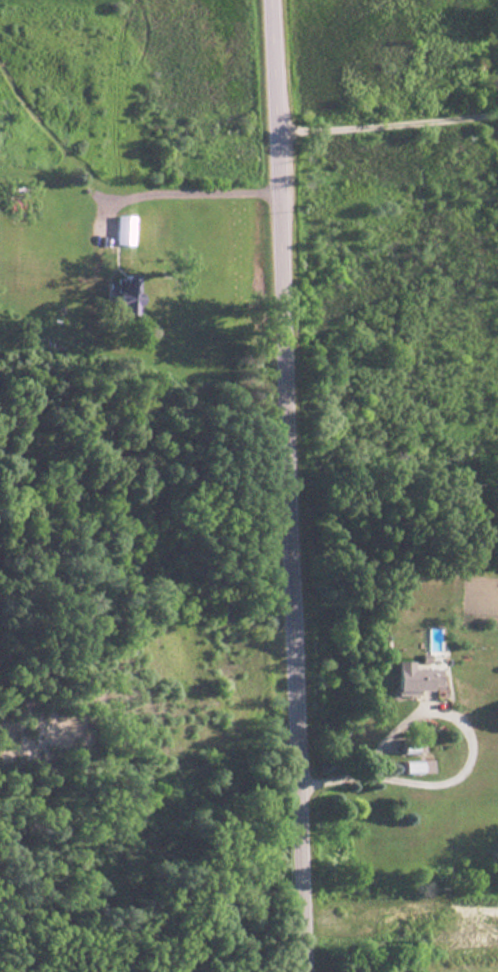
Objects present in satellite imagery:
road: (388, 122)
road: (174, 191)
building: (12, 204)
building: (120, 229)
building: (117, 295)
road: (291, 486)
park: (140, 678)
building: (406, 679)
road: (366, 766)

